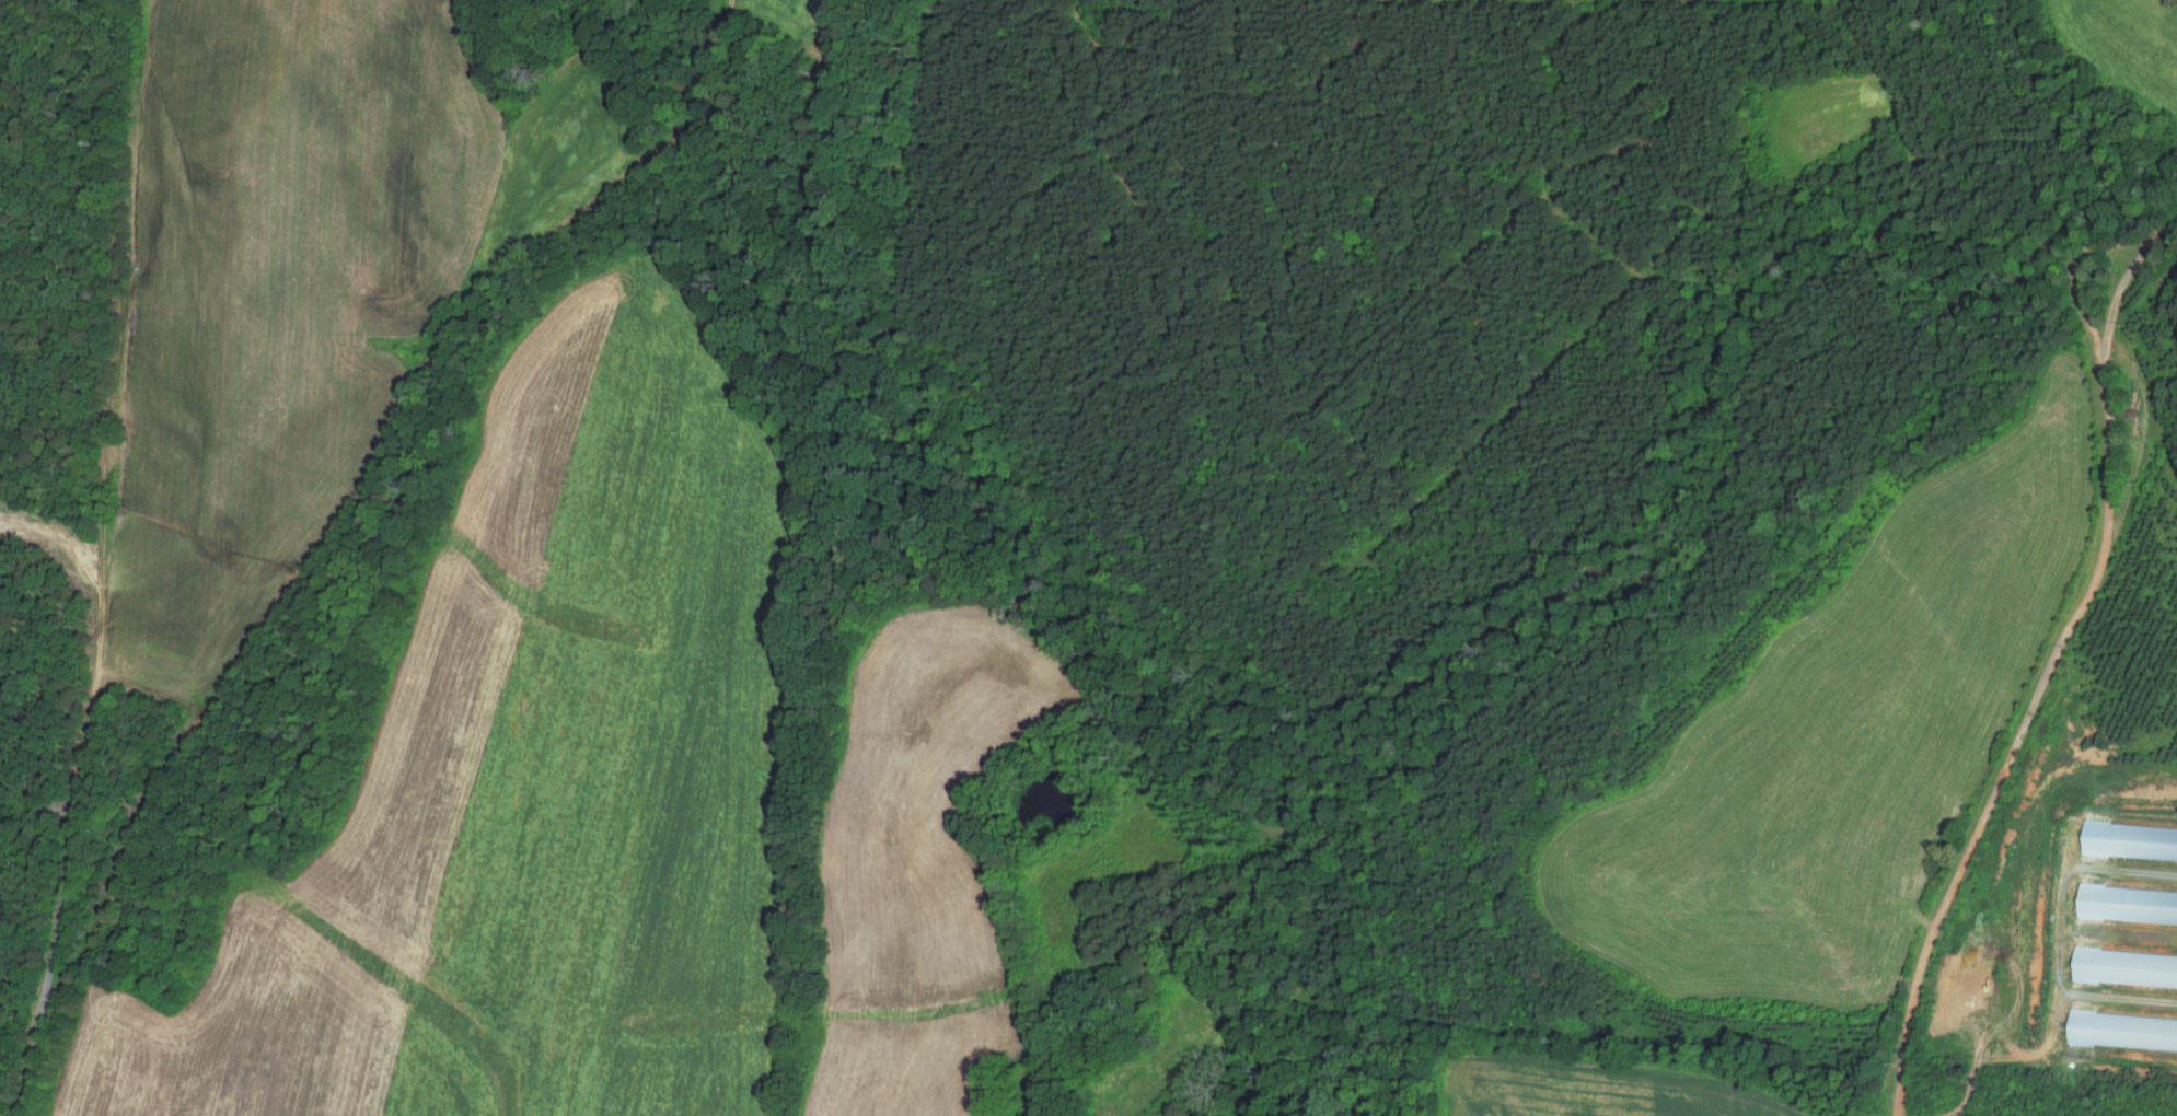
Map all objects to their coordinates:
road: (230, 525)
road: (2051, 664)
road: (39, 810)
road: (77, 816)
building: (2128, 841)
building: (2126, 905)
building: (2123, 967)
building: (2120, 1031)

